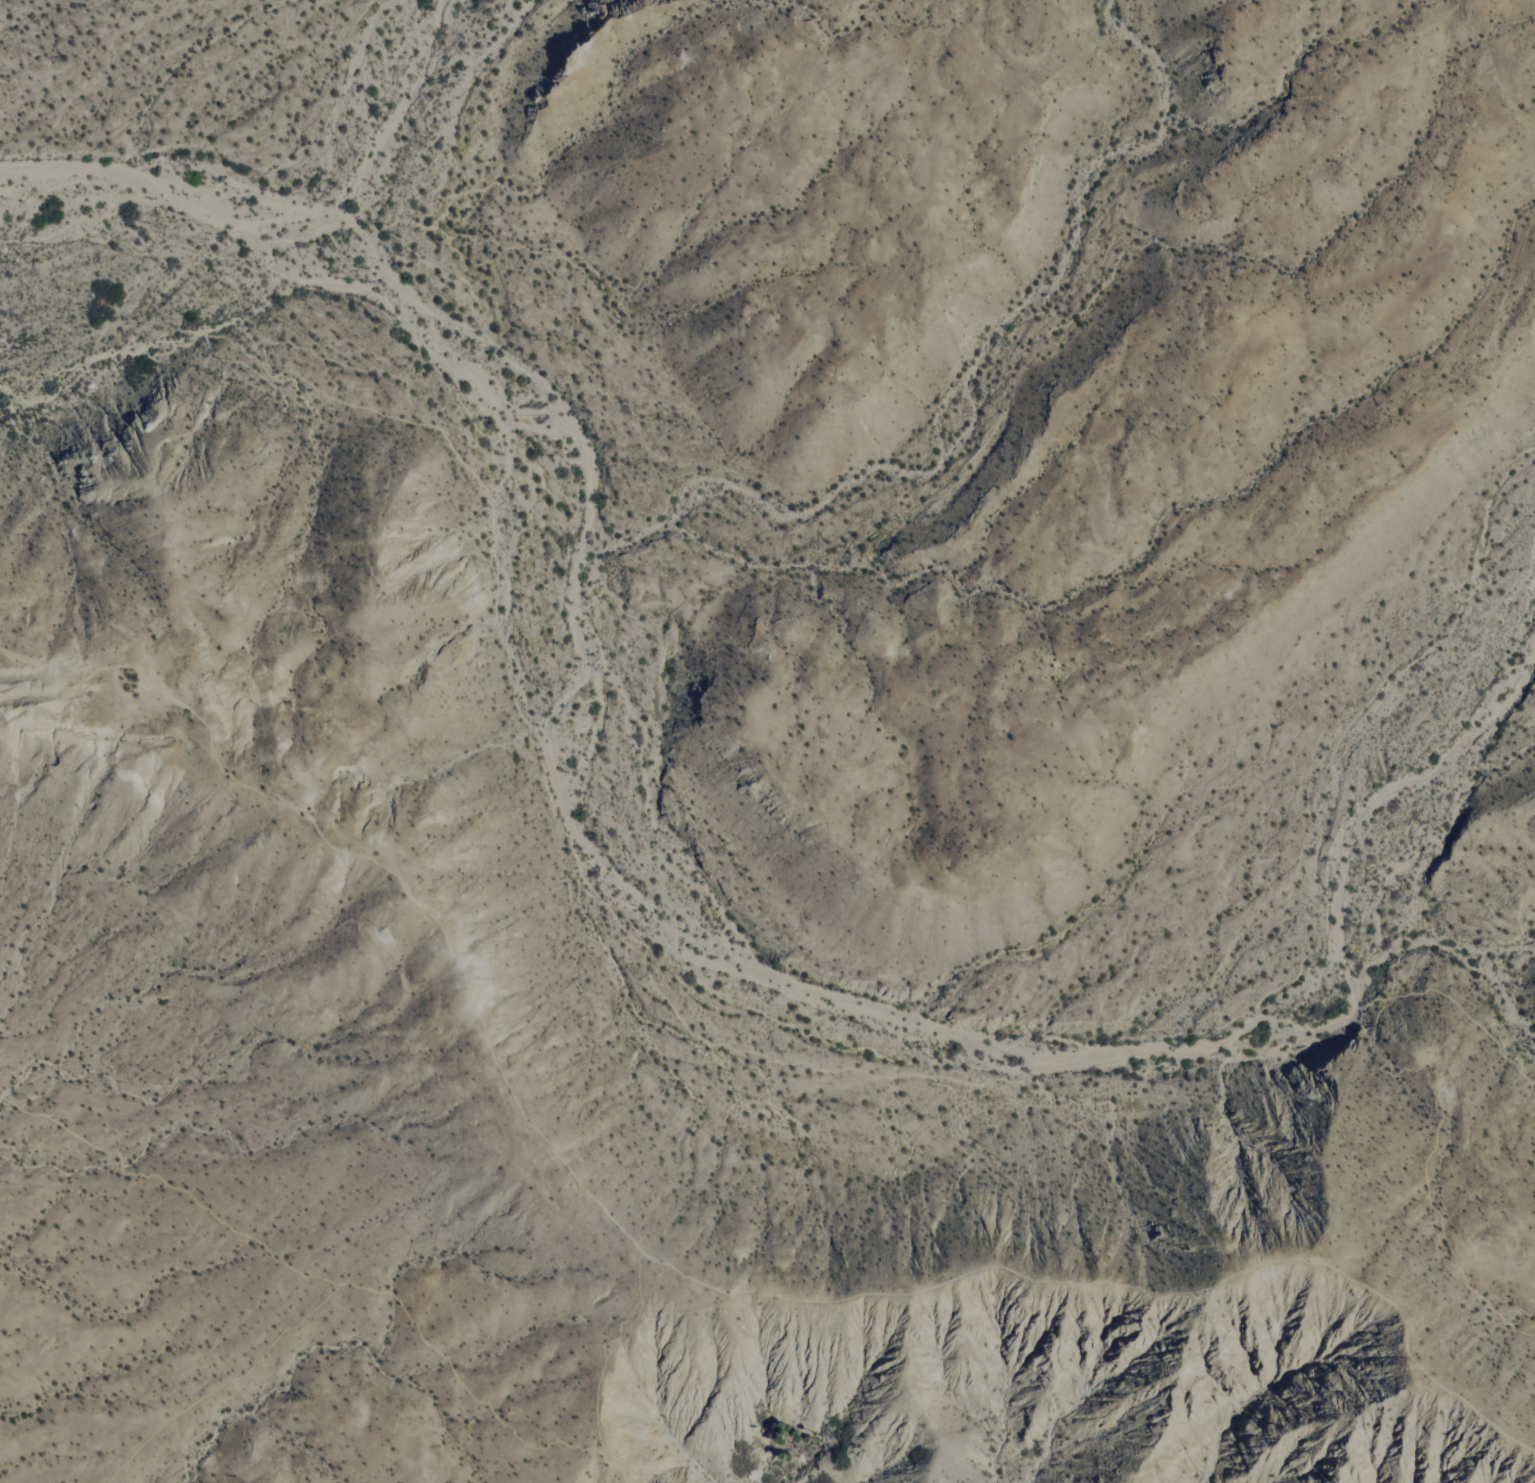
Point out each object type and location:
road: (379, 867)
road: (307, 1277)
road: (613, 1344)

